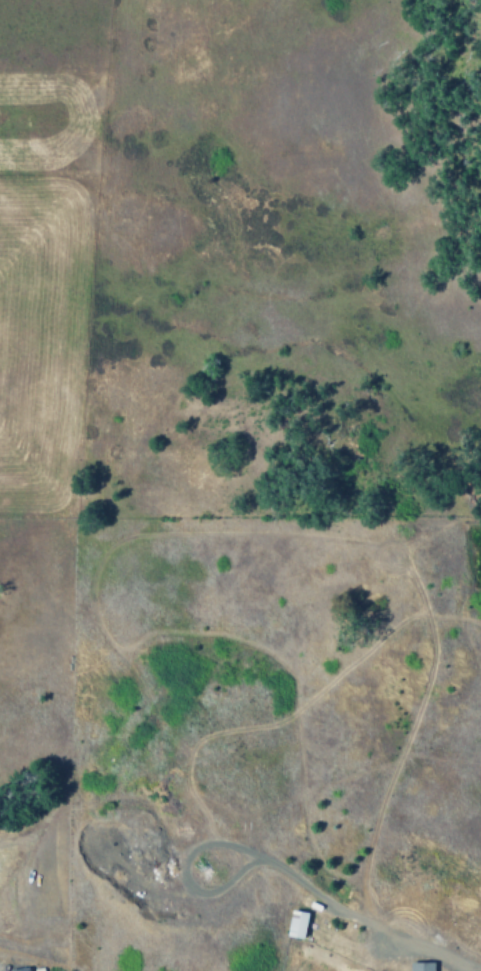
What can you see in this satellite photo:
road: (183, 877)
building: (295, 925)
road: (367, 925)
building: (420, 966)
building: (18, 969)

